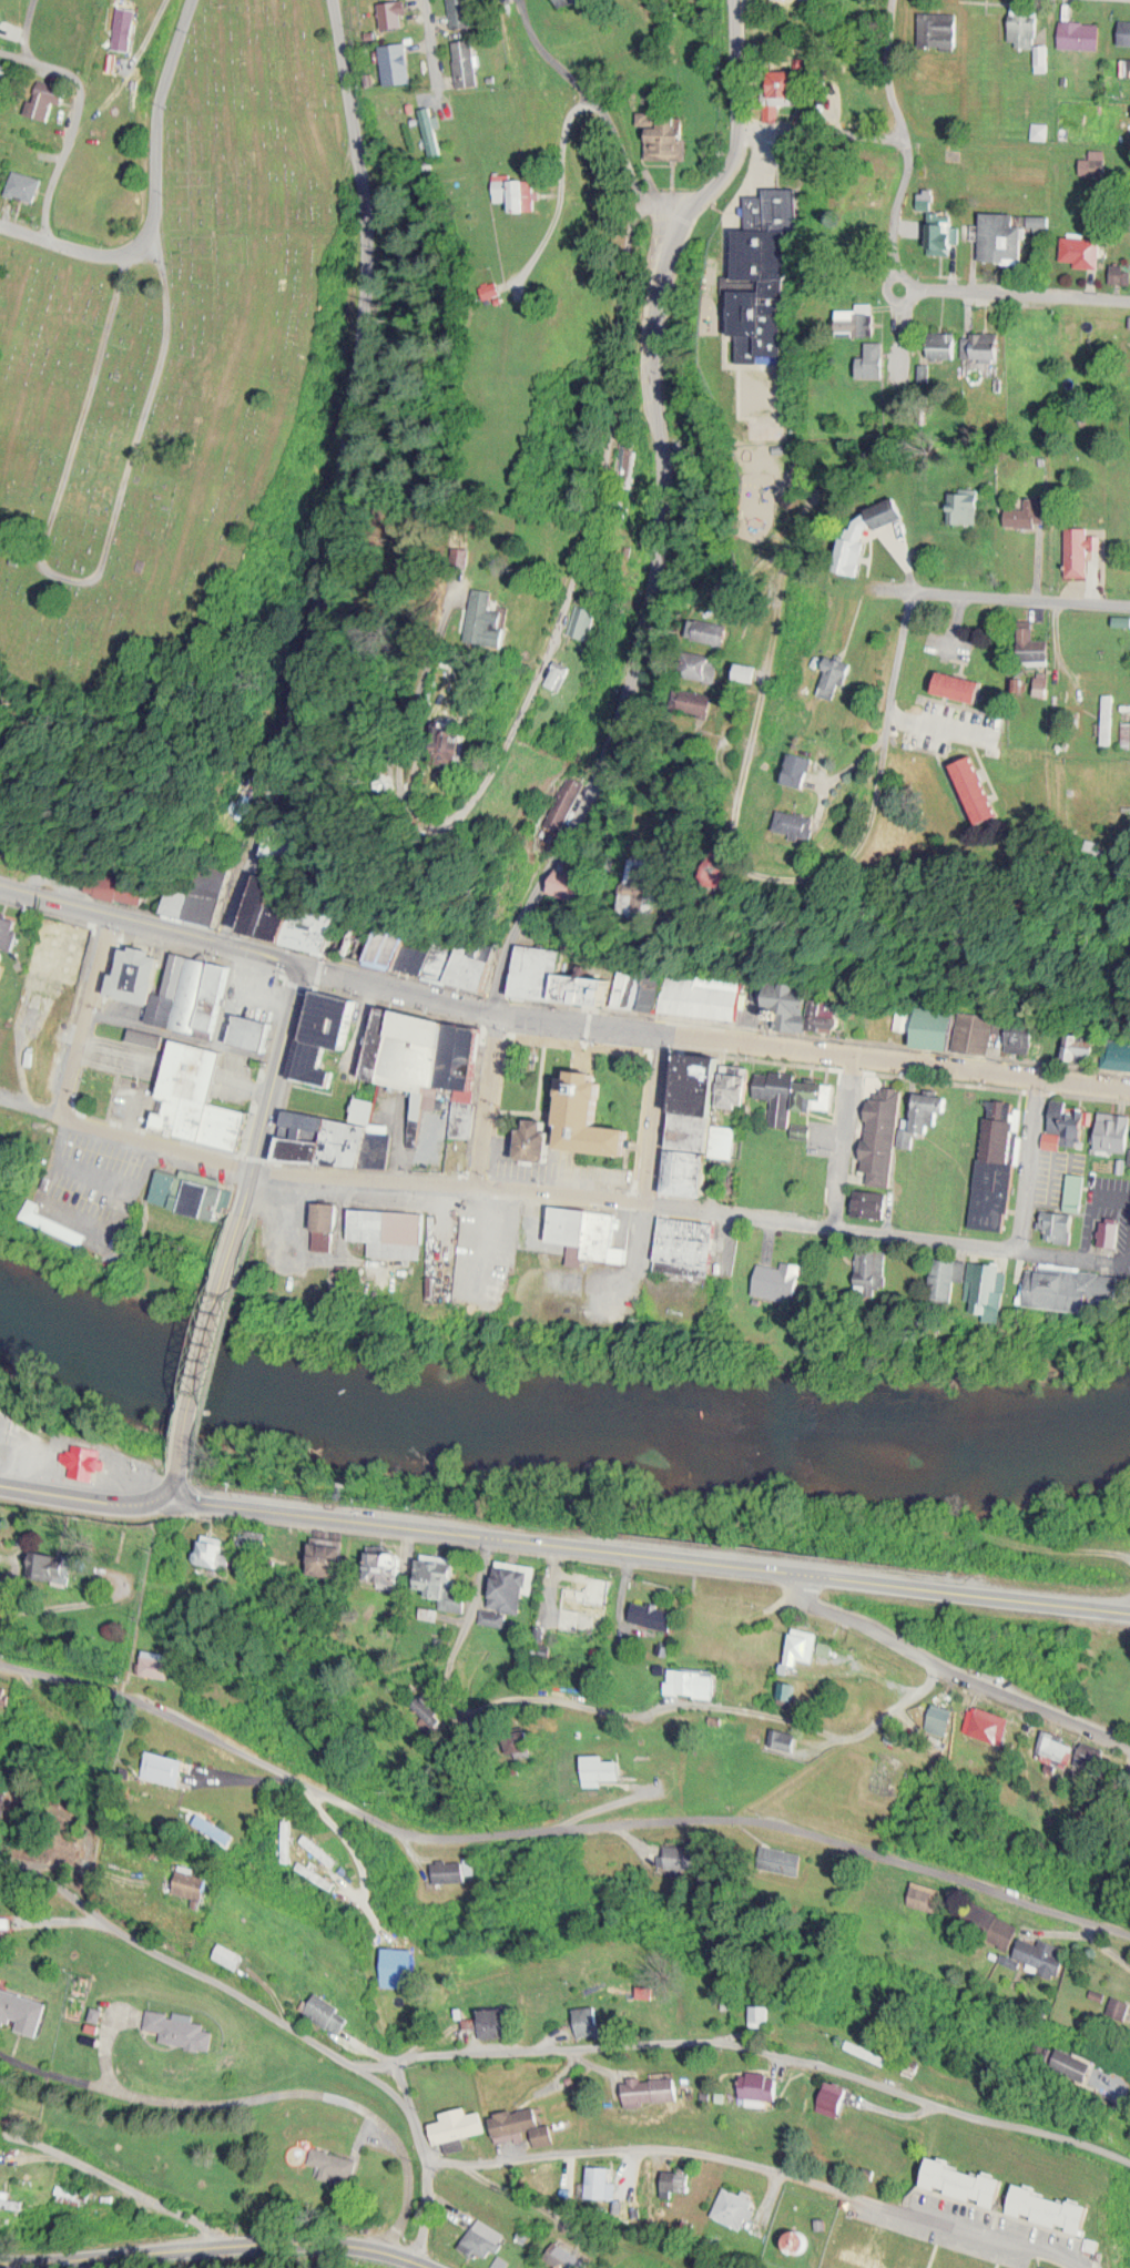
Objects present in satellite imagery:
building: (0, 10)
building: (396, 12)
building: (462, 12)
building: (126, 23)
road: (23, 27)
road: (528, 27)
building: (1024, 27)
building: (940, 30)
building: (1122, 31)
building: (1078, 33)
road: (145, 39)
road: (445, 57)
building: (469, 61)
building: (399, 62)
road: (41, 65)
building: (788, 82)
building: (51, 109)
road: (159, 115)
road: (619, 129)
building: (434, 130)
road: (825, 130)
building: (669, 134)
road: (907, 140)
road: (55, 163)
parking lot: (757, 169)
road: (743, 182)
building: (27, 183)
road: (552, 186)
building: (945, 233)
building: (1001, 238)
road: (79, 243)
building: (1078, 258)
building: (1121, 269)
building: (764, 273)
road: (1020, 288)
road: (898, 298)
building: (861, 318)
parking lot: (647, 330)
building: (946, 343)
building: (986, 344)
park: (172, 355)
building: (877, 358)
road: (335, 474)
road: (654, 501)
building: (967, 504)
building: (1029, 511)
building: (869, 531)
building: (1078, 560)
road: (88, 577)
road: (912, 578)
road: (999, 593)
building: (505, 616)
building: (590, 620)
building: (714, 635)
building: (1034, 645)
road: (561, 649)
building: (701, 664)
building: (749, 671)
building: (570, 674)
building: (839, 675)
building: (961, 695)
building: (696, 700)
building: (1110, 716)
building: (1128, 731)
building: (480, 747)
building: (811, 765)
building: (983, 787)
building: (564, 801)
building: (819, 817)
building: (743, 865)
building: (576, 872)
building: (653, 879)
building: (126, 887)
road: (788, 888)
building: (213, 893)
building: (181, 899)
building: (281, 906)
road: (151, 924)
building: (8, 927)
building: (322, 928)
building: (417, 956)
building: (442, 960)
building: (478, 963)
building: (177, 970)
building: (543, 970)
building: (143, 972)
parking lot: (266, 984)
building: (595, 985)
building: (631, 986)
building: (654, 988)
building: (196, 991)
building: (221, 994)
building: (702, 997)
building: (795, 1000)
building: (169, 1006)
road: (84, 1013)
building: (340, 1016)
building: (935, 1024)
building: (258, 1029)
road: (715, 1033)
building: (1012, 1035)
building: (390, 1038)
building: (1071, 1045)
building: (427, 1047)
building: (1116, 1052)
building: (471, 1054)
road: (175, 1061)
building: (319, 1061)
building: (707, 1079)
road: (273, 1087)
building: (782, 1091)
building: (821, 1091)
building: (203, 1096)
road: (492, 1096)
road: (28, 1101)
road: (134, 1110)
building: (466, 1110)
building: (927, 1111)
building: (0, 1115)
building: (597, 1115)
road: (661, 1116)
building: (1070, 1123)
building: (698, 1129)
building: (2, 1130)
building: (306, 1135)
road: (846, 1139)
road: (154, 1140)
building: (350, 1140)
building: (884, 1140)
building: (1113, 1140)
road: (1029, 1159)
building: (999, 1162)
building: (694, 1170)
road: (95, 1176)
parking lot: (90, 1182)
building: (1078, 1187)
building: (194, 1191)
building: (872, 1200)
road: (637, 1202)
road: (1092, 1204)
building: (333, 1213)
road: (83, 1220)
building: (390, 1230)
building: (1113, 1231)
building: (588, 1232)
building: (690, 1238)
building: (326, 1239)
road: (1053, 1250)
parking lot: (489, 1255)
road: (1110, 1257)
building: (872, 1270)
building: (984, 1285)
building: (1070, 1286)
building: (780, 1290)
road: (212, 1341)
river: (556, 1415)
building: (81, 1469)
road: (171, 1483)
road: (79, 1497)
building: (254, 1538)
building: (292, 1545)
road: (671, 1554)
building: (328, 1558)
building: (52, 1566)
building: (390, 1568)
building: (446, 1578)
building: (512, 1584)
road: (961, 1588)
road: (108, 1597)
building: (587, 1603)
road: (35, 1606)
building: (653, 1614)
building: (802, 1646)
building: (156, 1661)
building: (790, 1690)
road: (313, 1691)
road: (578, 1705)
road: (896, 1706)
building: (935, 1720)
building: (26, 1729)
building: (784, 1737)
building: (1049, 1749)
building: (1086, 1753)
building: (165, 1766)
building: (602, 1767)
road: (622, 1798)
building: (215, 1827)
road: (557, 1827)
road: (404, 1843)
building: (322, 1848)
building: (681, 1859)
building: (775, 1861)
building: (450, 1869)
building: (194, 1881)
building: (928, 1890)
building: (1042, 1953)
building: (231, 1955)
building: (403, 1973)
building: (329, 2005)
building: (1120, 2005)
building: (21, 2006)
building: (763, 2014)
building: (500, 2020)
building: (588, 2020)
building: (184, 2026)
building: (862, 2048)
road: (548, 2056)
road: (7, 2058)
building: (1078, 2063)
building: (762, 2085)
building: (644, 2089)
road: (407, 2093)
road: (1051, 2098)
road: (265, 2106)
building: (459, 2125)
building: (510, 2125)
building: (539, 2135)
road: (429, 2152)
building: (335, 2160)
road: (755, 2176)
building: (678, 2181)
building: (973, 2181)
building: (600, 2183)
road: (123, 2191)
building: (11, 2199)
building: (734, 2207)
building: (1056, 2207)
building: (479, 2239)
road: (223, 2242)
building: (802, 2245)
building: (1107, 2246)
building: (564, 2257)
building: (861, 2264)

